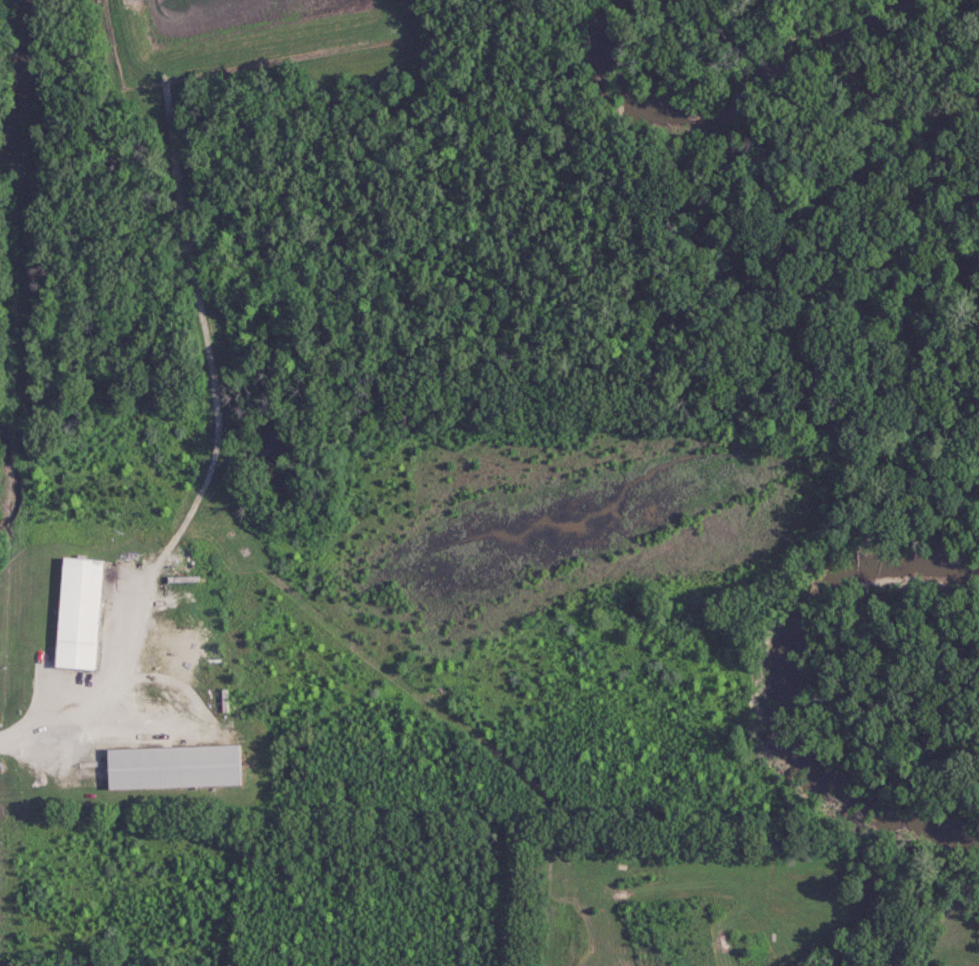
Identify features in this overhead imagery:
building: (75, 615)
road: (95, 697)
building: (169, 767)
park: (743, 900)

